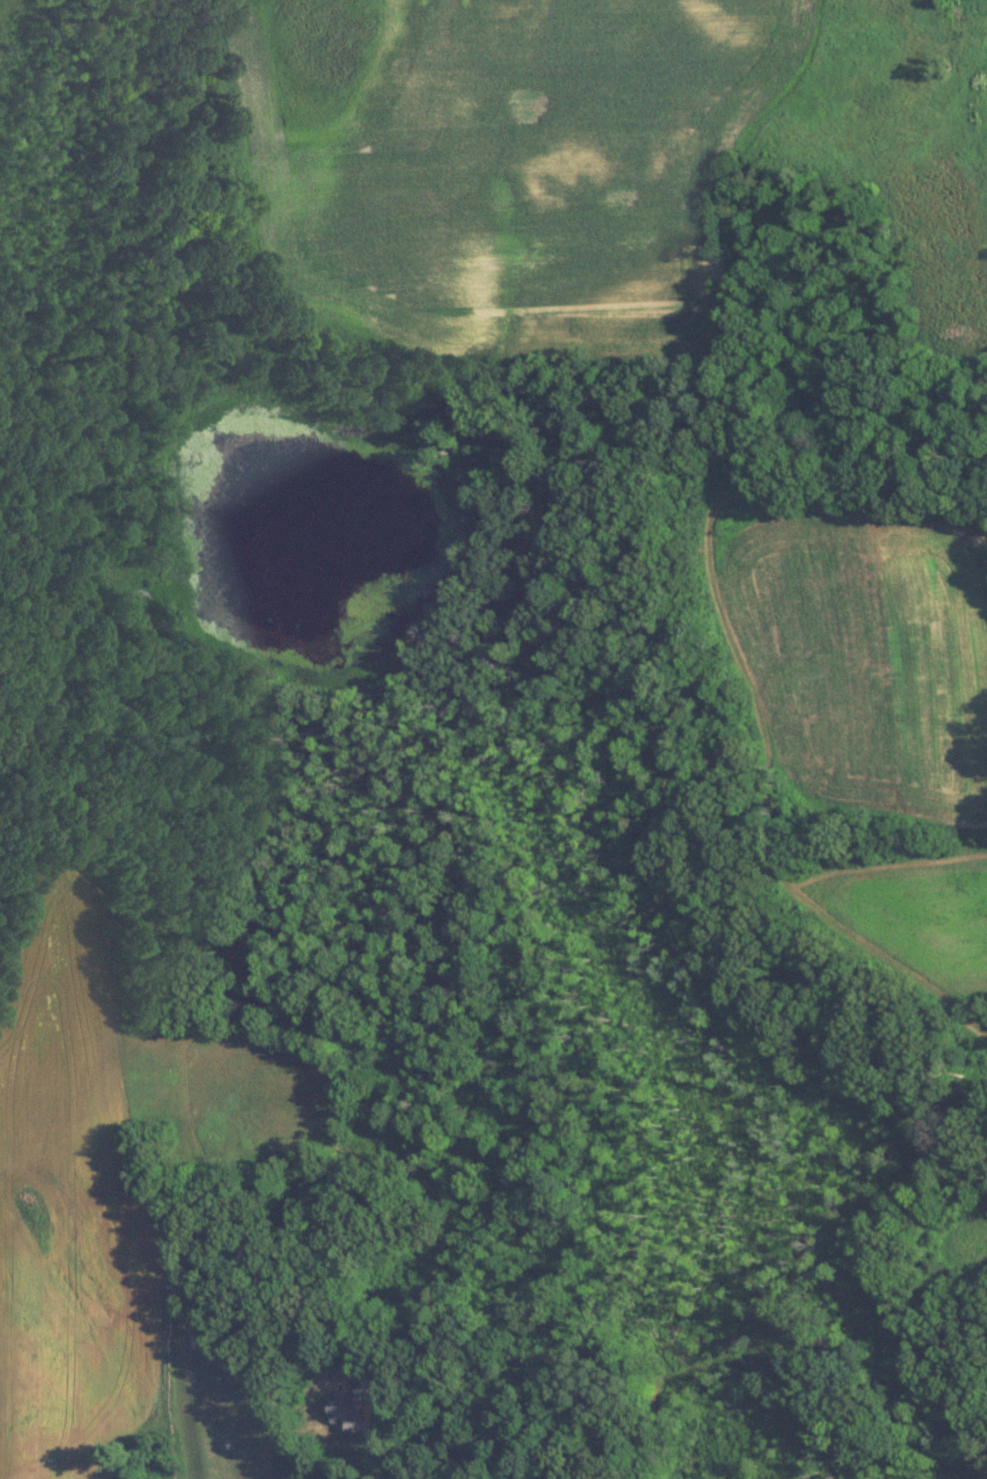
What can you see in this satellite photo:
road: (354, 1464)

